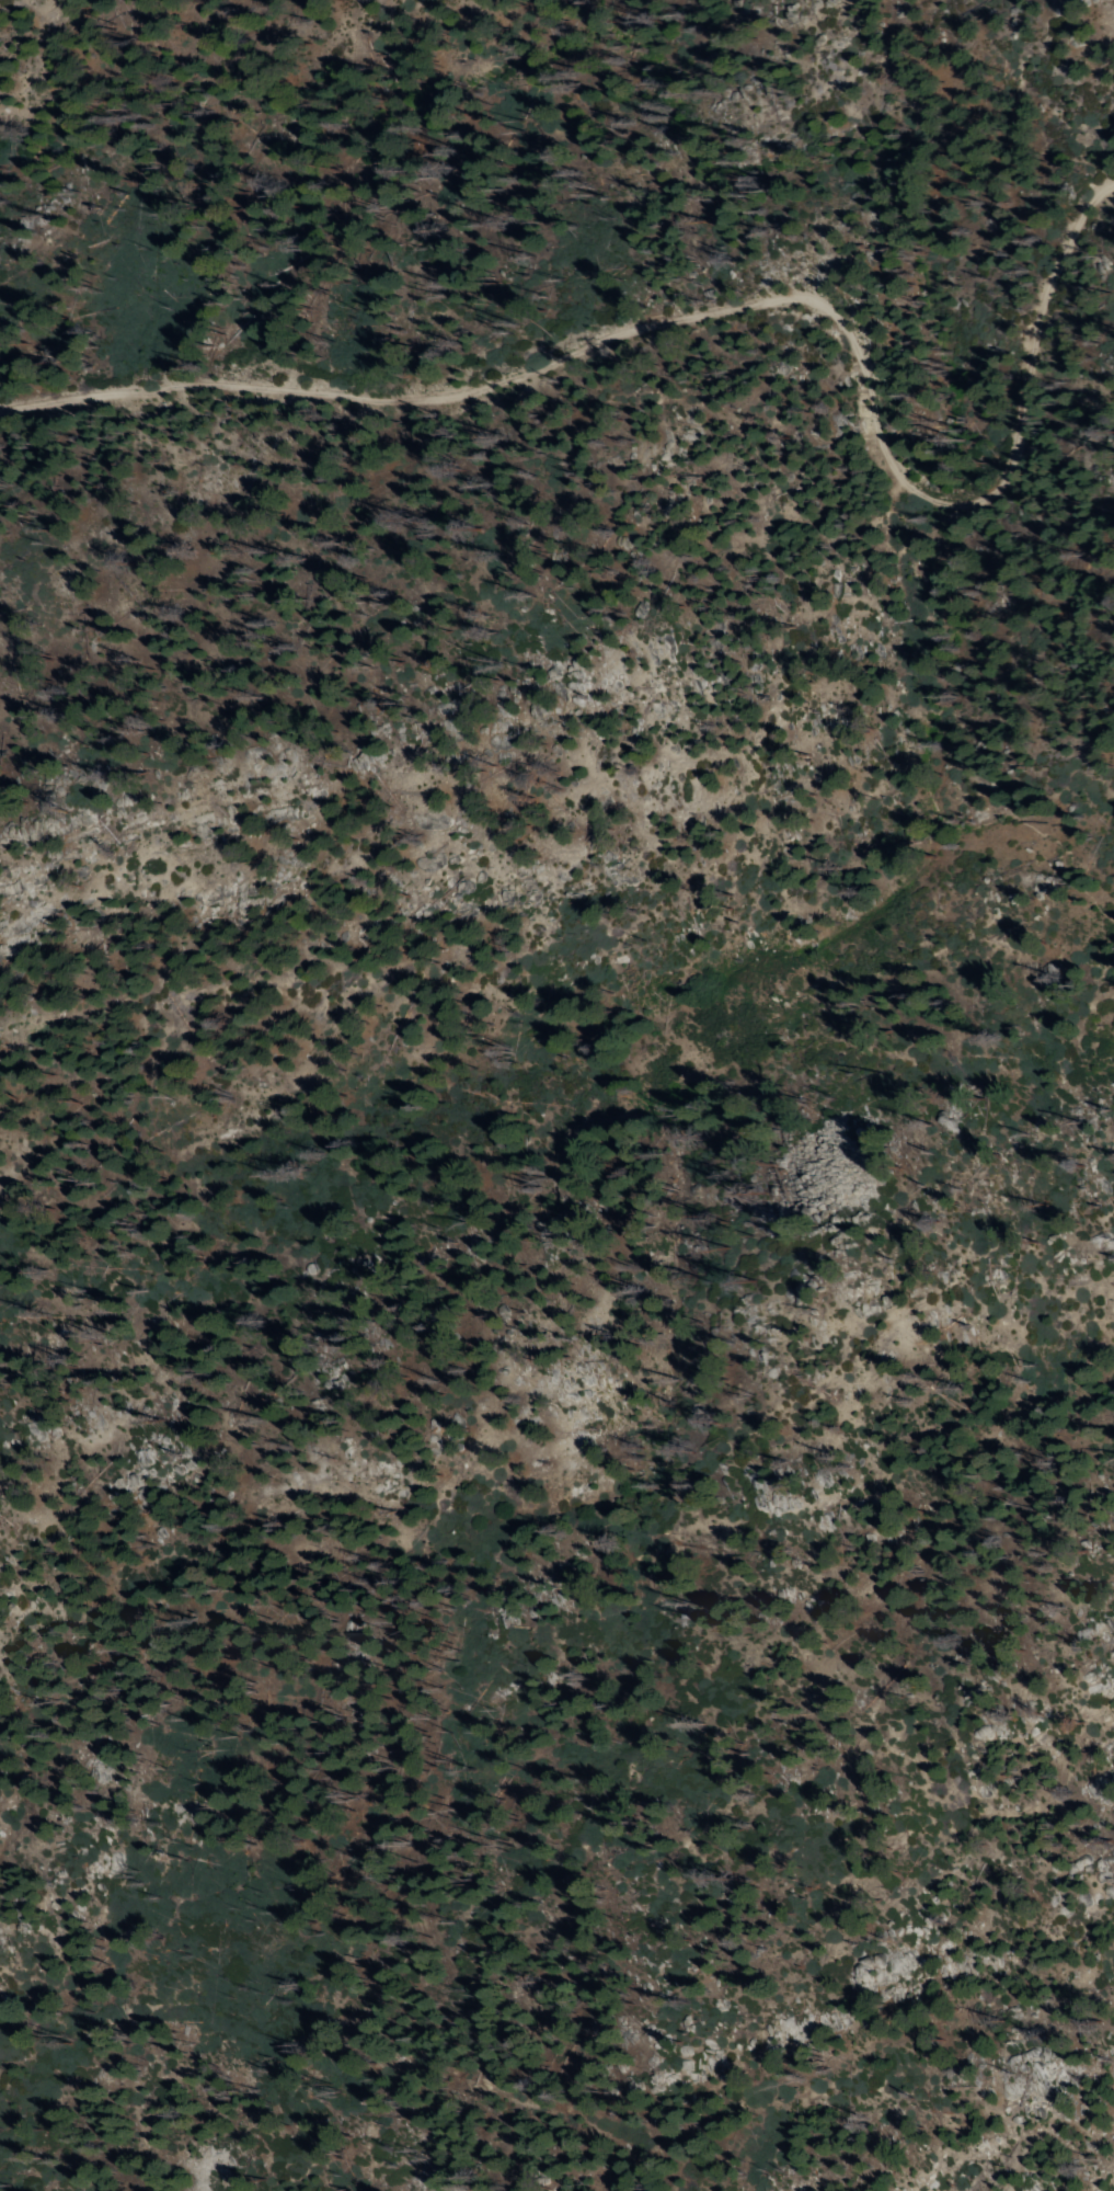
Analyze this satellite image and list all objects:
road: (713, 315)

